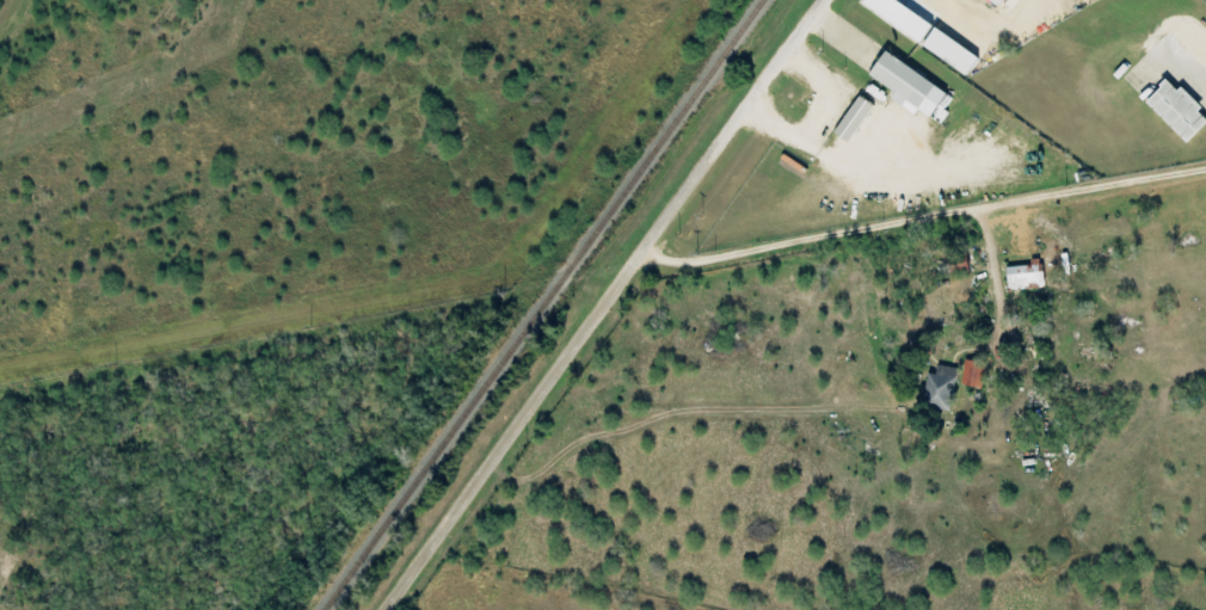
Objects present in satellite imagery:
building: (998, 1)
building: (903, 18)
building: (953, 53)
building: (913, 90)
building: (1179, 111)
road: (934, 191)
building: (959, 264)
building: (1027, 278)
road: (607, 303)
railway: (542, 304)
building: (974, 375)
building: (942, 388)

